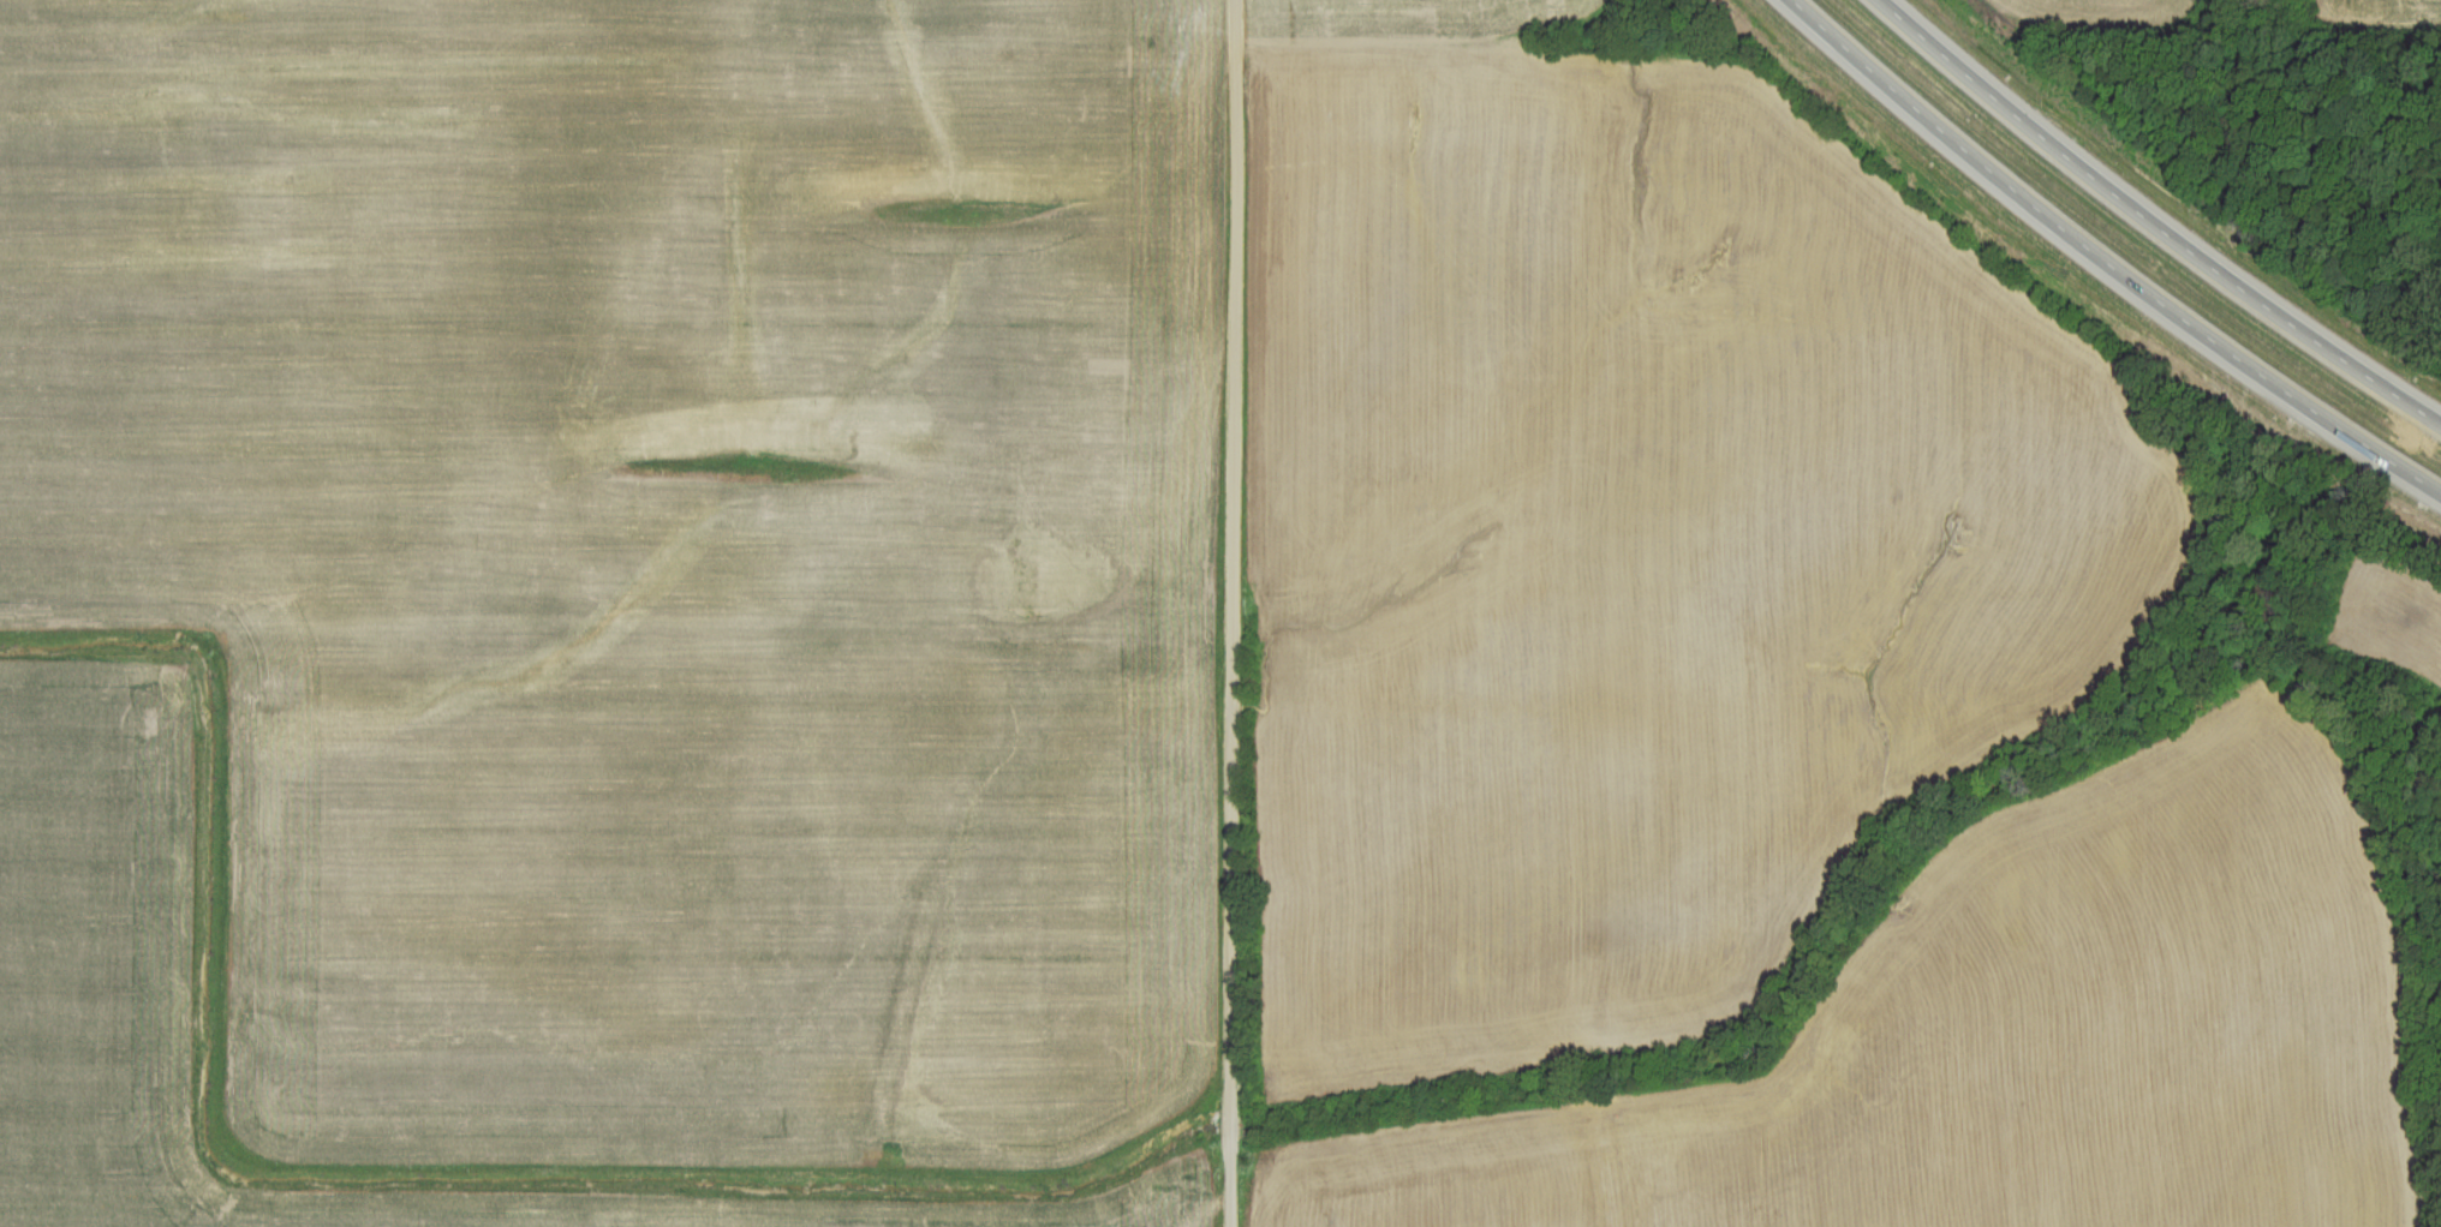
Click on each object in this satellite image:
road: (2154, 222)
road: (2095, 270)
road: (1231, 613)

